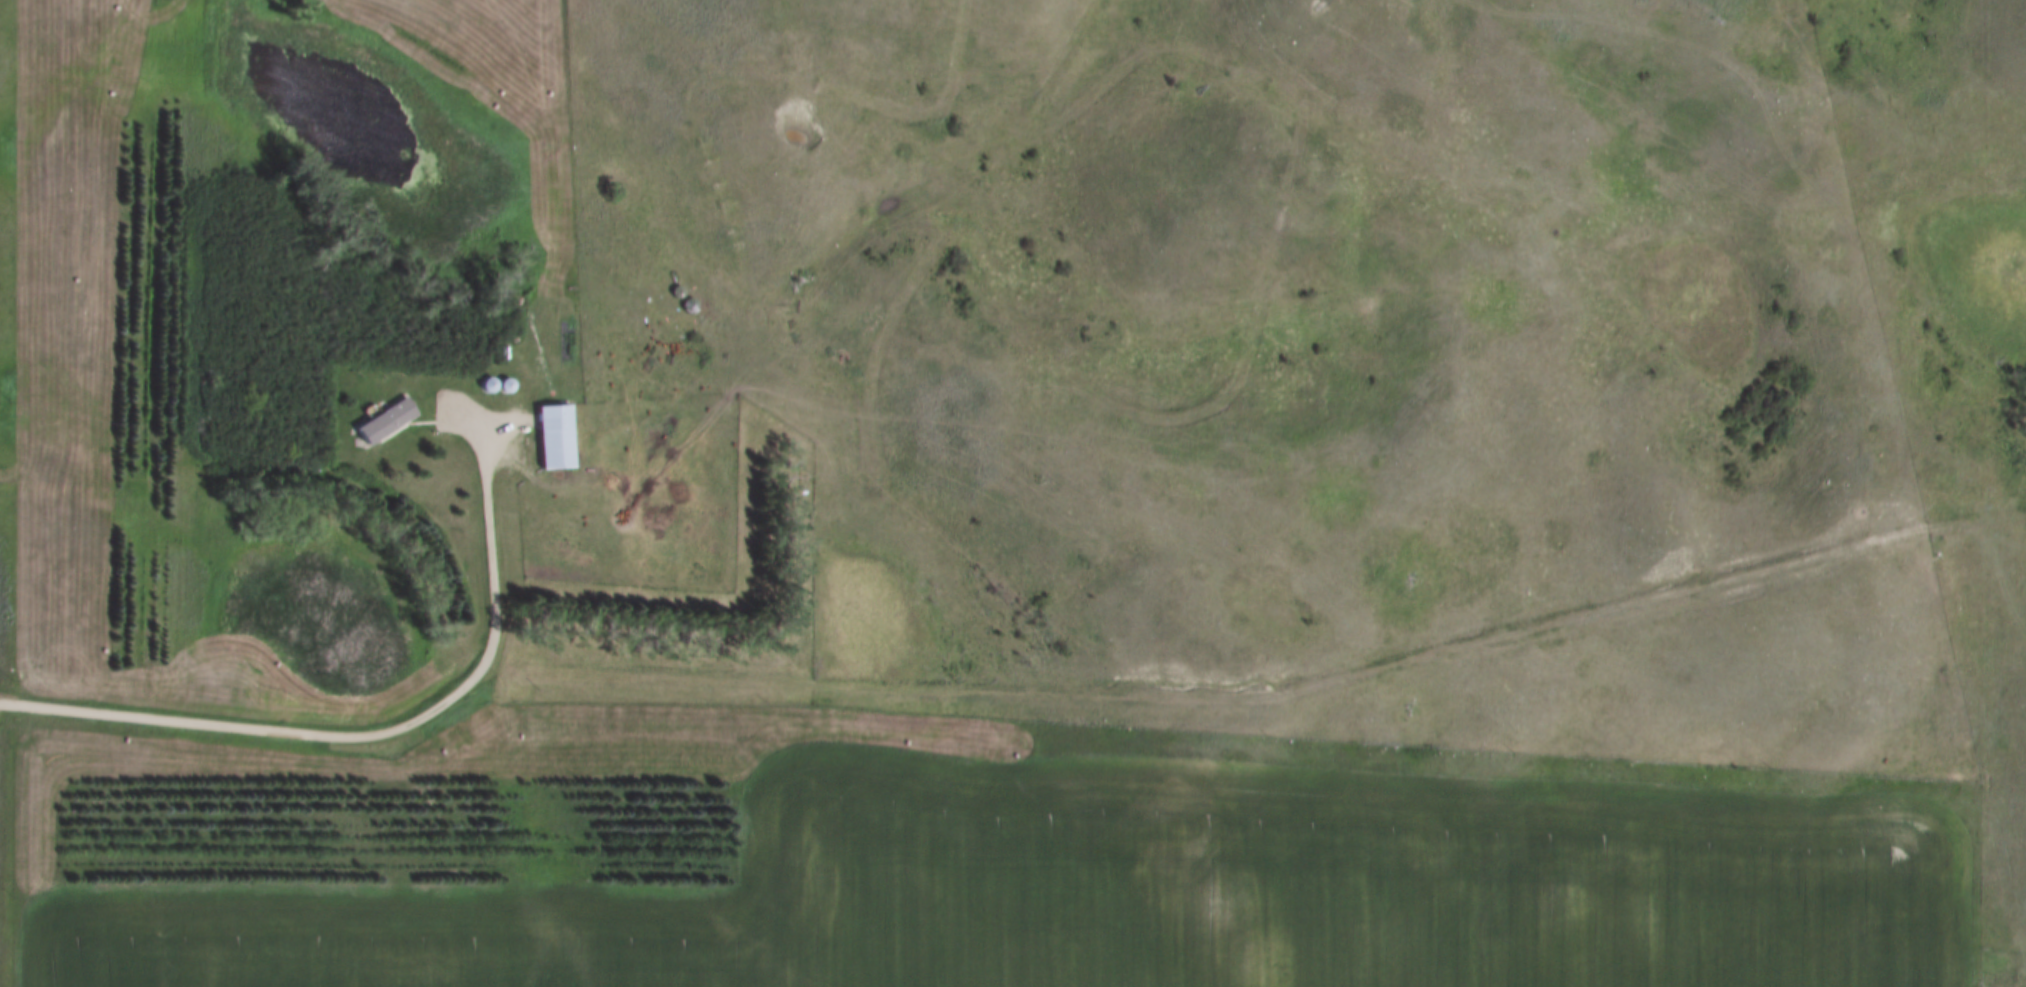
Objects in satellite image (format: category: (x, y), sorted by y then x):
building: (382, 423)
building: (553, 438)
road: (1268, 699)
road: (377, 732)

